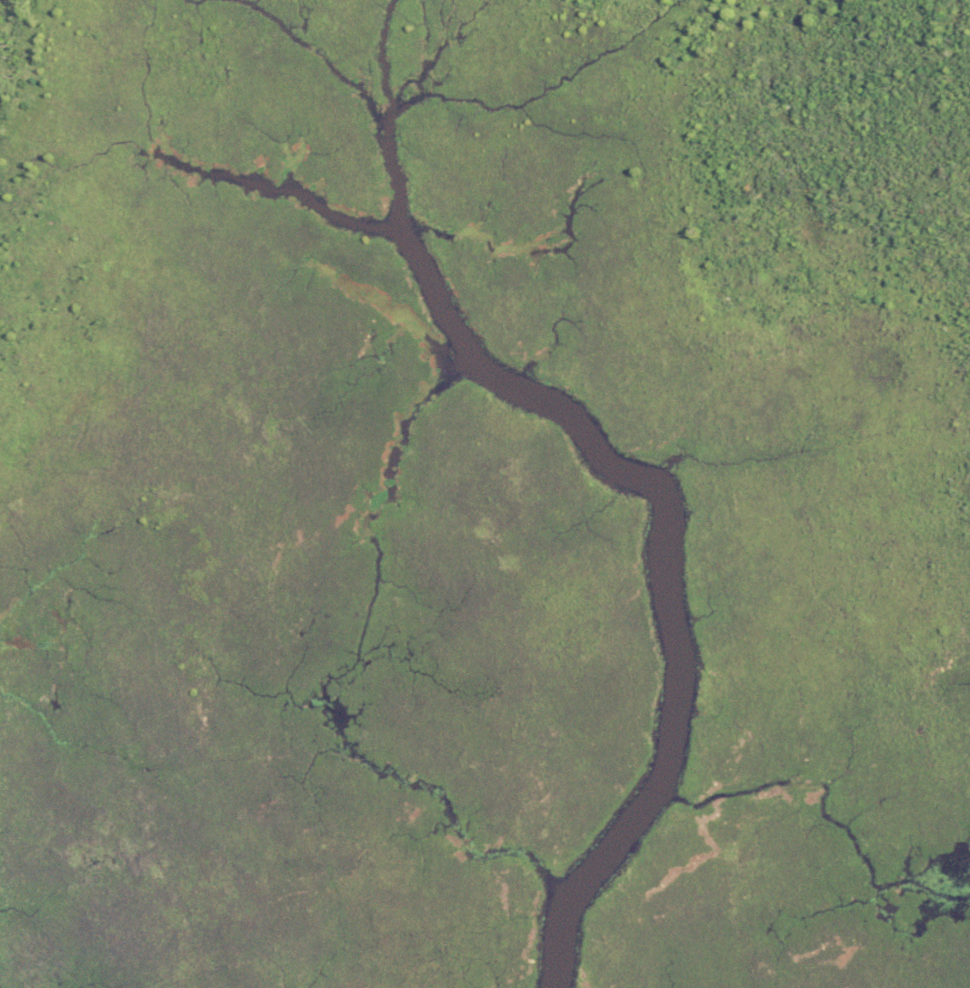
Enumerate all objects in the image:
river: (670, 637)

